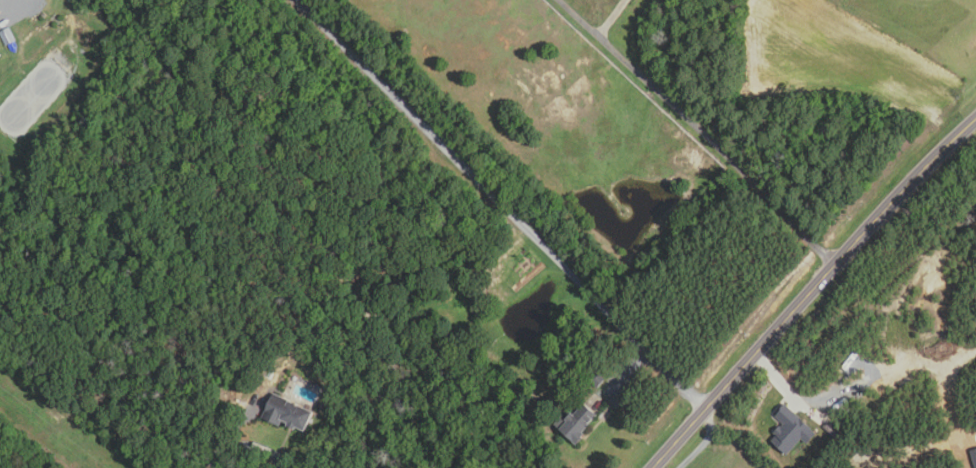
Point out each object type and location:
road: (609, 18)
building: (8, 36)
road: (699, 128)
road: (501, 204)
road: (812, 291)
building: (597, 380)
road: (793, 396)
building: (287, 414)
building: (576, 422)
building: (828, 427)
building: (792, 430)
road: (704, 443)
road: (245, 445)
building: (973, 456)

